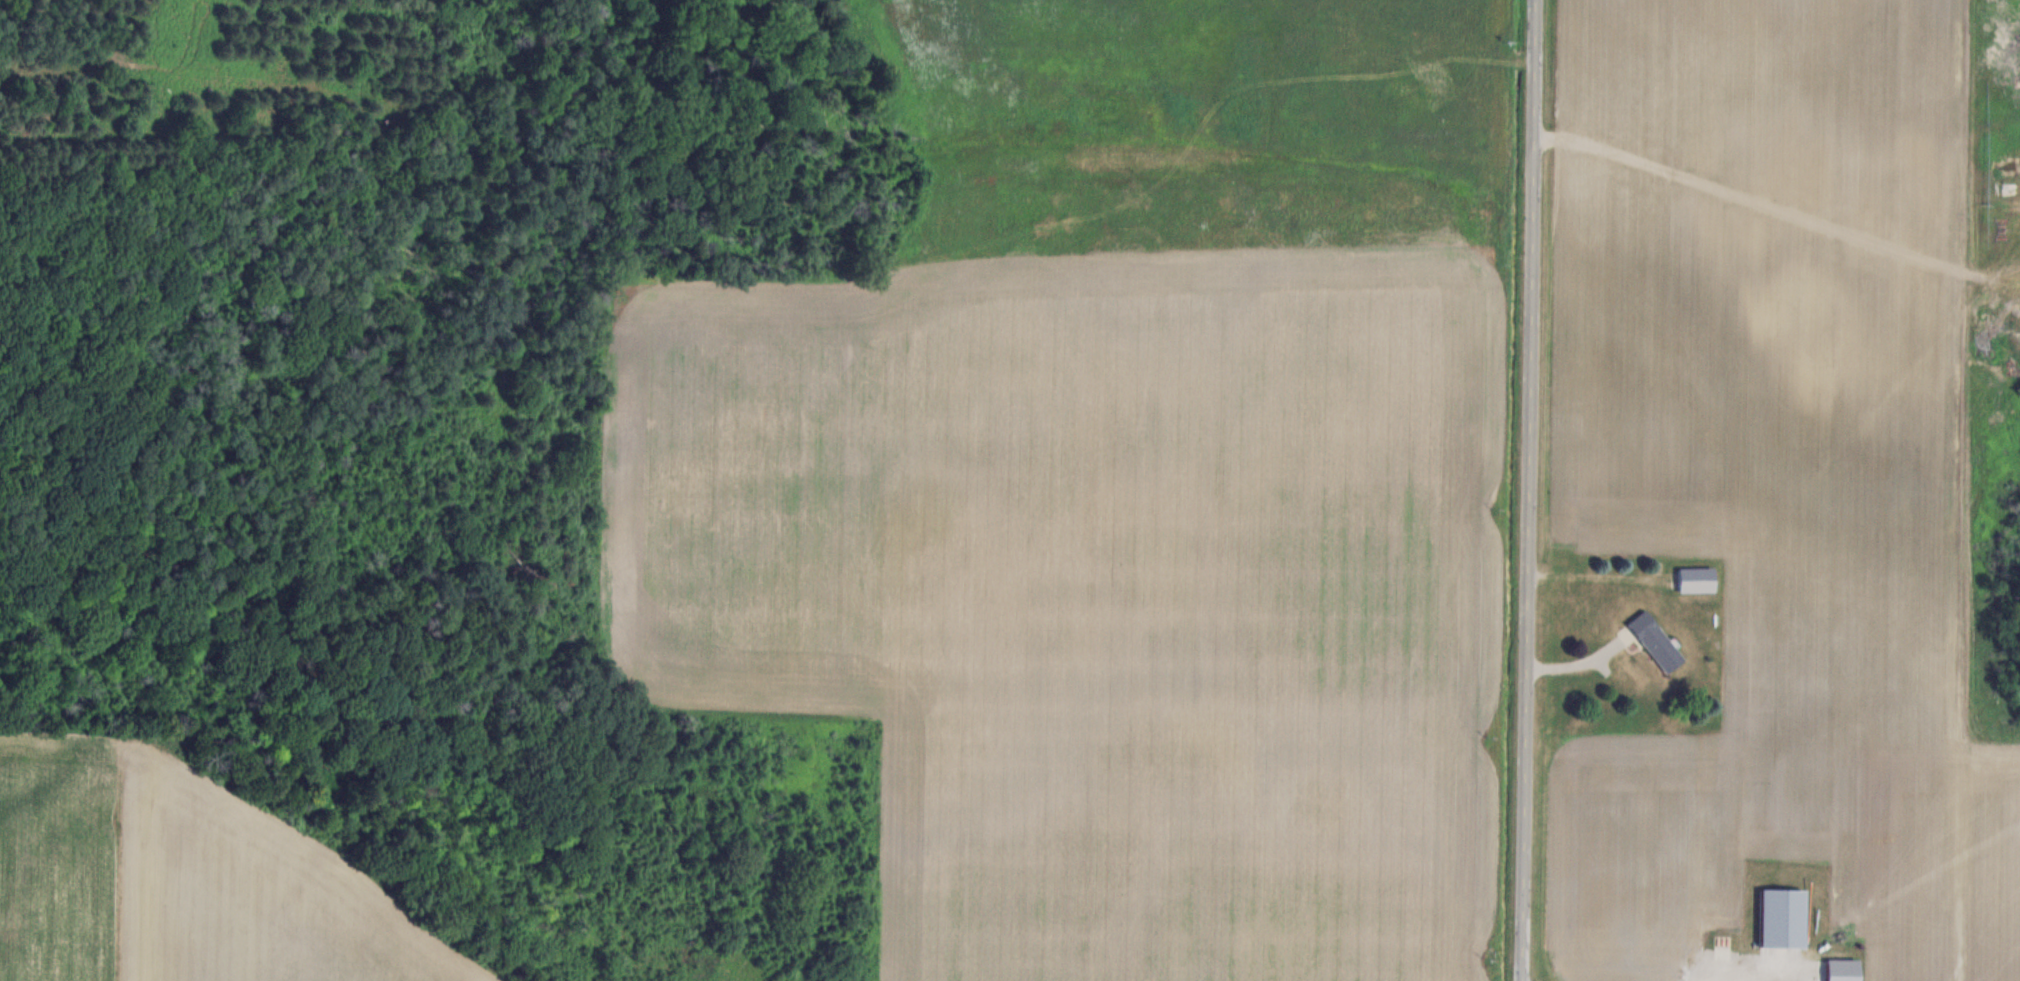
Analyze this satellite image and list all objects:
road: (1530, 490)
road: (1599, 576)
building: (1697, 580)
building: (1656, 642)
road: (1582, 662)

